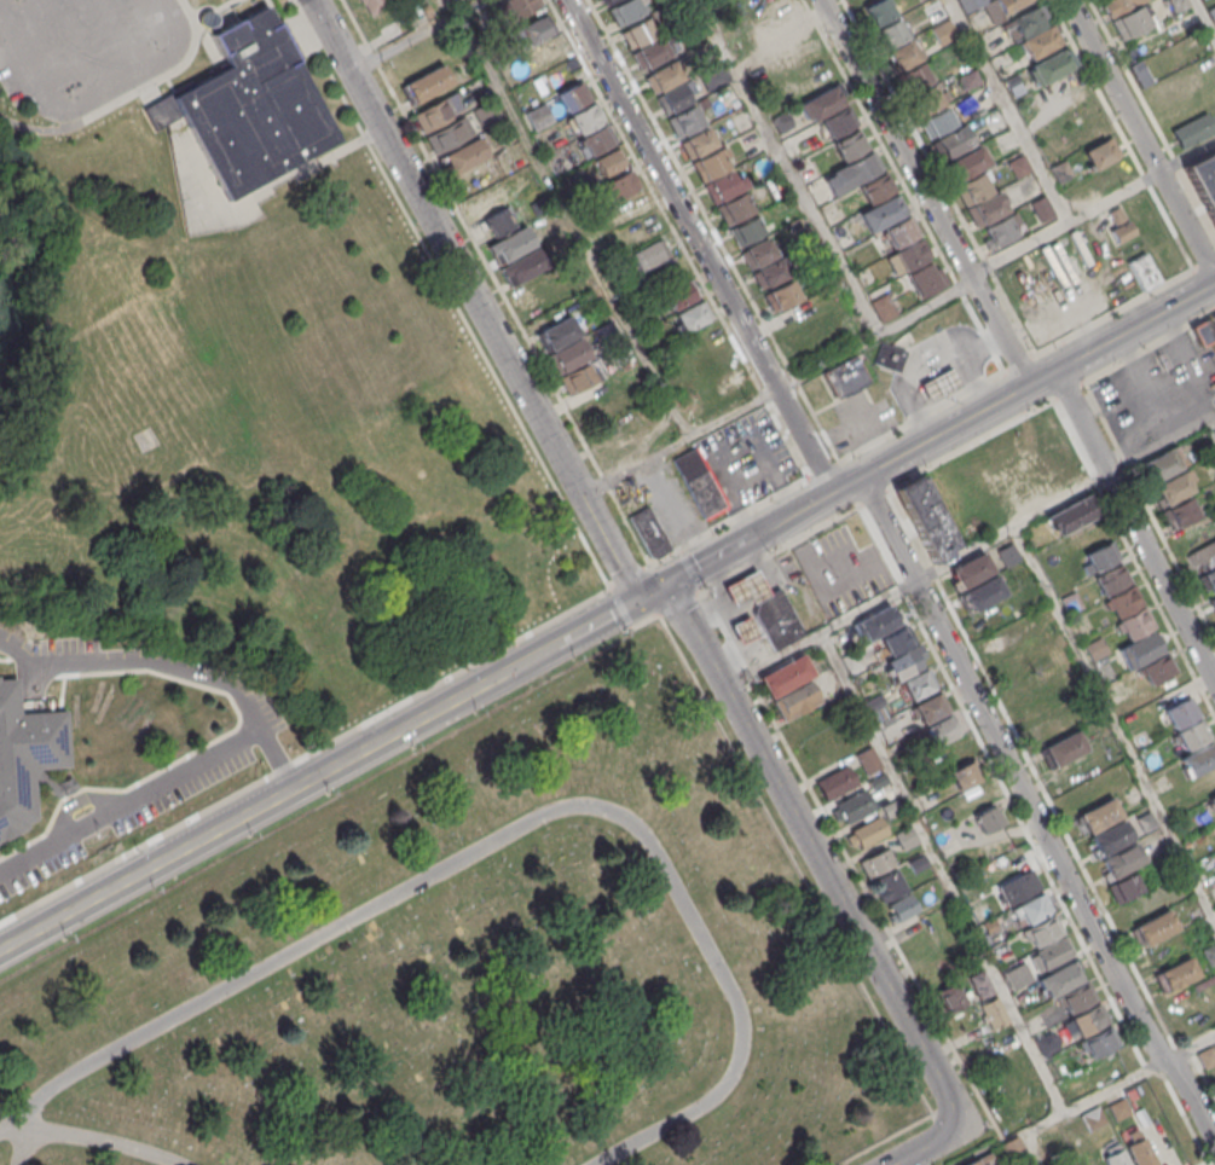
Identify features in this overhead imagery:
building: (606, 1)
building: (760, 1)
building: (1175, 4)
building: (374, 5)
building: (1011, 5)
building: (1118, 6)
building: (513, 7)
building: (935, 10)
road: (214, 11)
building: (624, 11)
building: (878, 11)
road: (23, 12)
road: (1205, 17)
building: (785, 22)
building: (1025, 22)
building: (1130, 22)
building: (688, 29)
building: (534, 30)
building: (640, 31)
building: (943, 31)
building: (891, 33)
road: (413, 35)
road: (120, 36)
building: (1042, 41)
road: (70, 48)
parking lot: (83, 51)
building: (650, 52)
building: (903, 54)
building: (797, 59)
building: (1051, 66)
building: (664, 76)
building: (711, 76)
building: (914, 77)
building: (971, 80)
building: (1009, 82)
building: (424, 83)
building: (475, 87)
building: (573, 95)
road: (98, 97)
road: (127, 97)
building: (672, 98)
building: (926, 100)
building: (821, 103)
building: (244, 108)
road: (1009, 110)
building: (438, 111)
building: (539, 116)
building: (585, 117)
building: (684, 120)
building: (781, 121)
building: (938, 121)
building: (839, 122)
building: (1193, 129)
building: (449, 134)
road: (895, 138)
road: (1140, 138)
building: (596, 140)
building: (954, 141)
building: (696, 143)
building: (850, 145)
building: (1100, 152)
building: (463, 157)
building: (608, 162)
building: (966, 162)
building: (710, 164)
road: (787, 166)
building: (1018, 166)
building: (852, 172)
building: (1060, 172)
building: (1204, 179)
building: (621, 185)
building: (724, 186)
building: (774, 186)
building: (973, 186)
building: (876, 187)
building: (733, 208)
building: (987, 208)
building: (1041, 208)
road: (1092, 208)
building: (883, 211)
building: (497, 222)
road: (573, 225)
building: (1118, 225)
building: (1002, 228)
road: (712, 230)
building: (745, 231)
building: (901, 231)
building: (510, 244)
road: (699, 245)
building: (758, 253)
building: (650, 254)
building: (907, 257)
building: (522, 266)
building: (1141, 269)
building: (769, 273)
building: (924, 278)
road: (494, 280)
building: (537, 288)
building: (679, 294)
building: (780, 295)
road: (475, 299)
road: (1124, 305)
building: (883, 307)
building: (597, 308)
building: (693, 315)
road: (999, 329)
building: (606, 330)
building: (1204, 330)
building: (557, 332)
road: (1149, 347)
building: (568, 355)
building: (889, 357)
road: (1020, 361)
park: (244, 372)
building: (723, 375)
building: (845, 376)
building: (579, 377)
building: (1214, 383)
building: (941, 386)
road: (777, 389)
parking lot: (1156, 392)
road: (1066, 393)
road: (832, 395)
road: (922, 416)
parking lot: (860, 421)
building: (659, 425)
road: (1211, 425)
road: (926, 440)
road: (970, 446)
building: (621, 451)
building: (1034, 454)
building: (1163, 463)
road: (822, 469)
parking lot: (714, 476)
building: (698, 481)
building: (1175, 487)
road: (874, 497)
building: (1180, 512)
building: (1071, 515)
road: (728, 518)
building: (926, 518)
road: (1135, 526)
building: (649, 532)
road: (782, 547)
road: (967, 549)
building: (1008, 553)
building: (1101, 556)
building: (1202, 556)
road: (690, 568)
building: (971, 570)
road: (630, 573)
building: (1210, 578)
building: (1112, 579)
traffic signals: (666, 584)
building: (747, 590)
building: (984, 593)
traffic signals: (638, 599)
building: (1126, 601)
building: (1213, 601)
road: (682, 602)
building: (1071, 602)
road: (621, 607)
road: (647, 621)
building: (776, 621)
building: (878, 622)
building: (1136, 624)
building: (744, 628)
building: (895, 641)
building: (1095, 649)
building: (1140, 649)
building: (904, 662)
road: (177, 668)
building: (1157, 668)
road: (461, 671)
building: (785, 676)
building: (916, 685)
building: (795, 701)
building: (931, 707)
building: (1035, 709)
building: (1181, 713)
road: (1113, 721)
building: (943, 730)
building: (1192, 734)
building: (1063, 748)
building: (951, 752)
building: (27, 759)
building: (868, 759)
building: (1198, 759)
road: (319, 775)
building: (964, 775)
building: (878, 781)
building: (834, 783)
road: (131, 800)
building: (1213, 802)
building: (854, 805)
building: (890, 807)
road: (1032, 813)
building: (1099, 815)
building: (989, 817)
building: (1145, 821)
road: (508, 833)
building: (866, 833)
building: (906, 837)
building: (1109, 837)
building: (1121, 858)
building: (875, 862)
building: (918, 863)
building: (1214, 863)
road: (943, 871)
road: (829, 880)
building: (887, 886)
building: (1124, 886)
building: (1018, 887)
building: (902, 906)
building: (1034, 908)
building: (990, 926)
building: (1155, 927)
building: (1043, 932)
building: (1052, 954)
building: (1209, 954)
park: (478, 968)
building: (1175, 974)
building: (1060, 979)
building: (979, 985)
building: (949, 996)
building: (1076, 997)
building: (994, 1012)
building: (1088, 1019)
building: (1046, 1043)
building: (1099, 1043)
building: (1207, 1056)
road: (1103, 1091)
building: (1130, 1092)
building: (1118, 1108)
building: (1093, 1118)
road: (82, 1134)
building: (1013, 1144)
building: (1140, 1152)
building: (1116, 1158)
building: (980, 1160)

